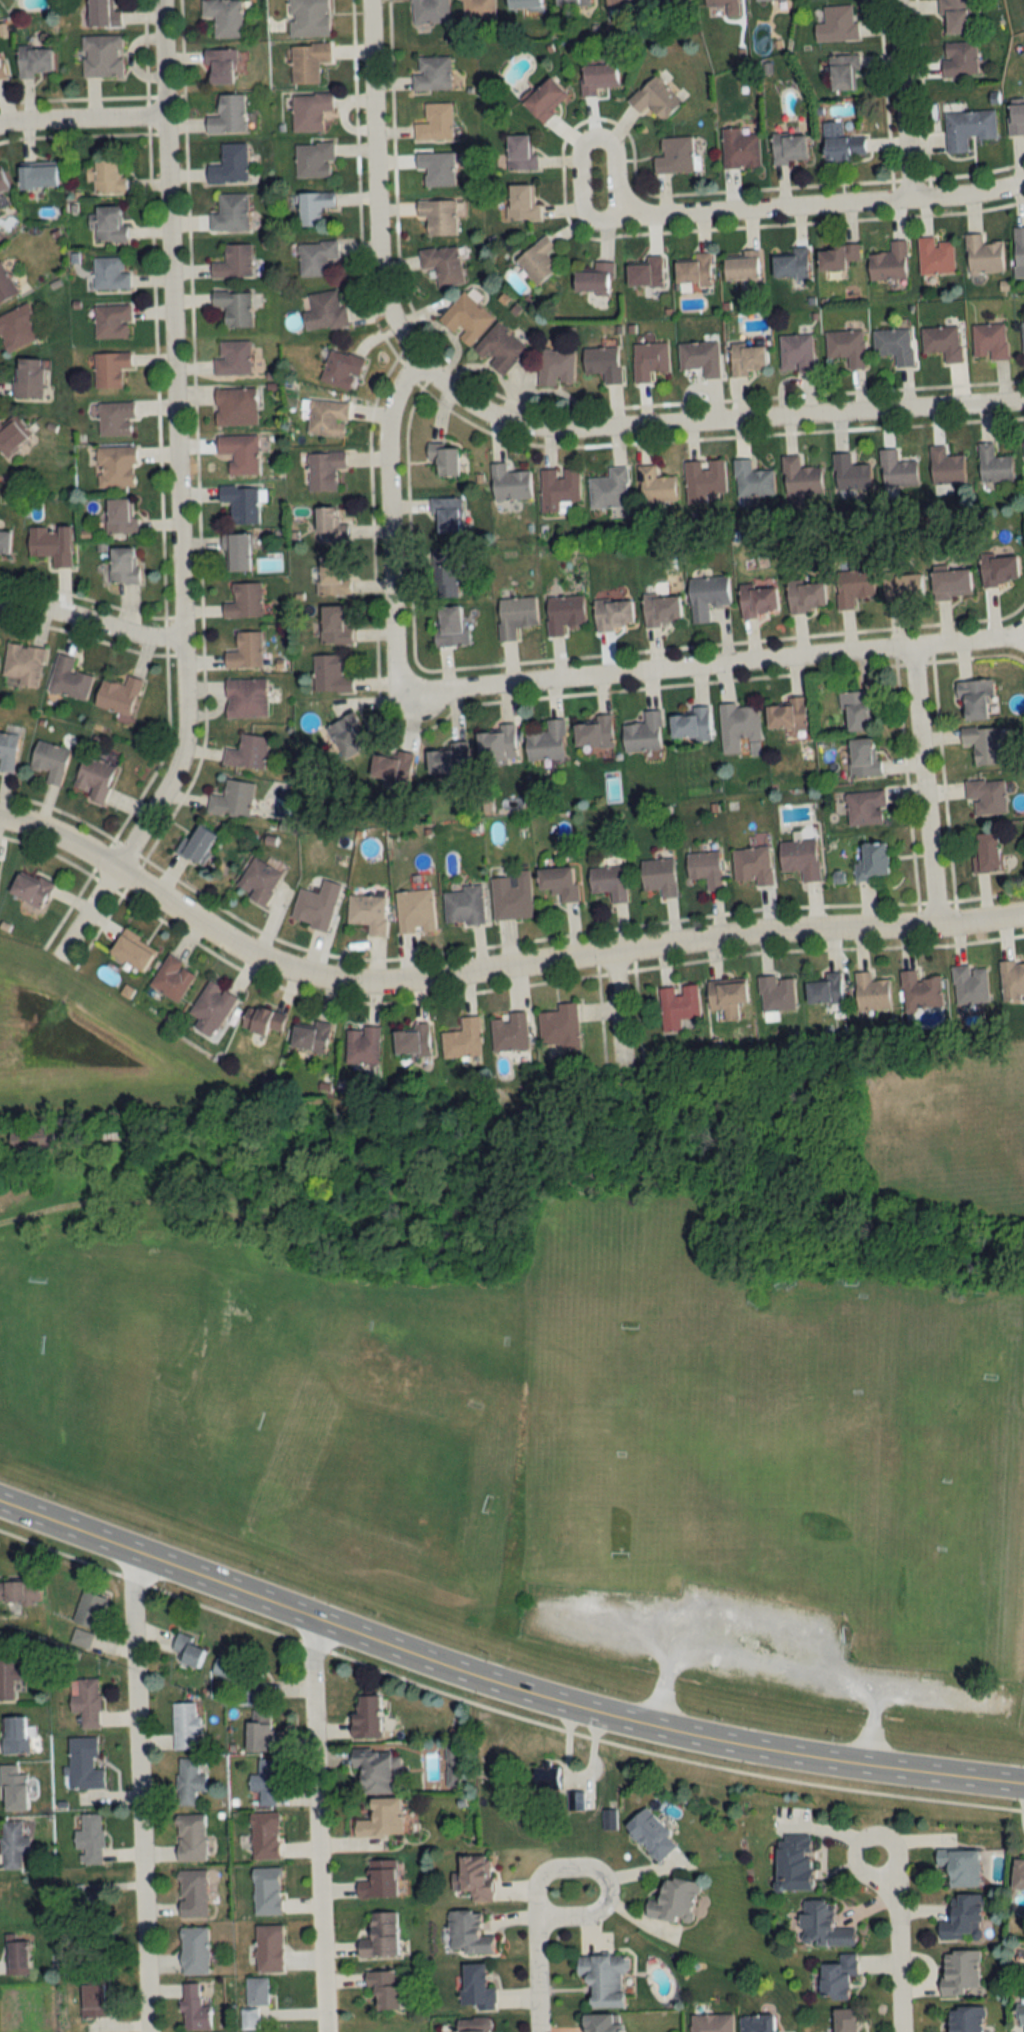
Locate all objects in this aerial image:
building: (671, 0)
building: (766, 0)
building: (571, 2)
building: (621, 4)
building: (523, 5)
building: (725, 6)
building: (476, 9)
building: (429, 11)
building: (101, 14)
building: (223, 17)
building: (954, 17)
building: (307, 18)
building: (837, 24)
building: (101, 56)
building: (959, 59)
building: (32, 62)
building: (307, 62)
building: (219, 67)
building: (1, 73)
building: (843, 73)
building: (431, 74)
building: (596, 79)
building: (654, 99)
building: (544, 100)
road: (899, 101)
building: (309, 111)
building: (229, 115)
road: (81, 119)
building: (1015, 120)
building: (434, 122)
building: (967, 129)
road: (583, 142)
building: (841, 143)
building: (788, 149)
building: (739, 150)
building: (520, 153)
building: (674, 156)
building: (313, 159)
building: (229, 164)
building: (436, 167)
building: (104, 174)
building: (37, 176)
building: (2, 182)
building: (521, 202)
building: (312, 206)
road: (822, 207)
building: (230, 212)
building: (438, 216)
building: (107, 223)
building: (1019, 246)
building: (982, 254)
building: (935, 255)
building: (838, 256)
building: (317, 258)
building: (233, 261)
building: (537, 261)
building: (889, 262)
building: (791, 263)
building: (442, 264)
building: (742, 265)
building: (694, 270)
building: (109, 272)
building: (645, 273)
building: (594, 277)
building: (5, 284)
building: (233, 306)
building: (323, 310)
building: (465, 318)
building: (111, 321)
building: (16, 327)
building: (1022, 335)
building: (989, 340)
building: (942, 341)
building: (894, 344)
building: (846, 346)
building: (499, 347)
building: (796, 353)
building: (700, 356)
building: (232, 357)
building: (747, 358)
building: (649, 359)
building: (603, 362)
building: (556, 366)
building: (109, 368)
building: (340, 368)
building: (28, 377)
building: (235, 405)
building: (326, 417)
building: (115, 418)
road: (525, 423)
building: (11, 435)
building: (239, 452)
building: (443, 458)
building: (993, 463)
building: (944, 465)
building: (115, 466)
building: (323, 469)
building: (896, 469)
building: (849, 473)
building: (800, 477)
building: (706, 478)
building: (751, 479)
building: (509, 483)
building: (655, 485)
building: (609, 488)
building: (559, 489)
road: (175, 496)
building: (241, 502)
building: (446, 515)
building: (120, 516)
building: (328, 525)
road: (385, 527)
building: (4, 542)
building: (50, 543)
building: (236, 551)
building: (123, 565)
building: (998, 568)
building: (333, 575)
building: (444, 580)
building: (950, 583)
building: (852, 586)
building: (902, 586)
building: (706, 595)
building: (805, 595)
building: (757, 599)
building: (244, 600)
building: (661, 610)
building: (563, 613)
building: (514, 614)
building: (612, 614)
road: (89, 620)
building: (334, 624)
building: (448, 625)
building: (245, 651)
building: (22, 664)
road: (718, 665)
building: (329, 674)
building: (68, 678)
building: (118, 695)
building: (246, 697)
building: (973, 698)
building: (857, 710)
building: (786, 714)
building: (690, 724)
building: (737, 725)
building: (594, 732)
building: (643, 733)
building: (345, 736)
building: (546, 741)
building: (983, 743)
building: (497, 744)
building: (7, 751)
building: (247, 752)
building: (863, 757)
building: (449, 759)
building: (49, 761)
building: (392, 767)
building: (94, 777)
road: (923, 784)
building: (986, 795)
building: (232, 798)
building: (864, 808)
building: (196, 843)
building: (985, 851)
building: (799, 858)
building: (871, 860)
building: (752, 865)
building: (704, 868)
building: (658, 876)
building: (258, 880)
building: (608, 881)
building: (558, 882)
building: (29, 889)
building: (511, 895)
building: (315, 905)
building: (463, 905)
building: (414, 911)
building: (368, 913)
building: (130, 951)
road: (492, 969)
building: (171, 977)
building: (1012, 979)
building: (970, 984)
building: (825, 989)
building: (920, 991)
building: (870, 992)
building: (776, 993)
building: (726, 997)
building: (677, 1005)
building: (210, 1008)
road: (615, 1013)
building: (261, 1020)
building: (559, 1026)
building: (509, 1032)
building: (310, 1036)
building: (462, 1039)
building: (410, 1041)
building: (361, 1045)
building: (30, 1142)
park: (558, 1454)
building: (19, 1592)
building: (88, 1609)
building: (80, 1637)
building: (186, 1650)
road: (771, 1657)
building: (228, 1668)
building: (7, 1677)
road: (501, 1685)
building: (254, 1693)
building: (84, 1701)
building: (365, 1717)
building: (185, 1727)
building: (260, 1733)
building: (14, 1735)
building: (83, 1765)
building: (375, 1771)
building: (545, 1776)
building: (188, 1781)
building: (265, 1783)
building: (12, 1789)
road: (138, 1793)
building: (380, 1819)
road: (314, 1825)
building: (650, 1835)
building: (264, 1836)
building: (89, 1837)
building: (190, 1838)
building: (12, 1844)
building: (793, 1863)
building: (958, 1867)
road: (598, 1869)
building: (1018, 1875)
building: (473, 1877)
building: (378, 1880)
building: (266, 1891)
building: (192, 1894)
building: (674, 1901)
building: (86, 1909)
building: (962, 1918)
road: (892, 1925)
building: (822, 1926)
building: (467, 1934)
building: (380, 1937)
building: (269, 1948)
building: (194, 1951)
building: (20, 1957)
building: (959, 1972)
road: (537, 1974)
building: (837, 1977)
building: (603, 1979)
building: (475, 1988)
building: (384, 1989)
building: (94, 1998)
building: (253, 2002)
building: (194, 2010)
building: (1020, 2012)
building: (964, 2019)
building: (844, 2021)
building: (600, 2023)
building: (711, 2023)
building: (757, 2023)
building: (473, 2025)

